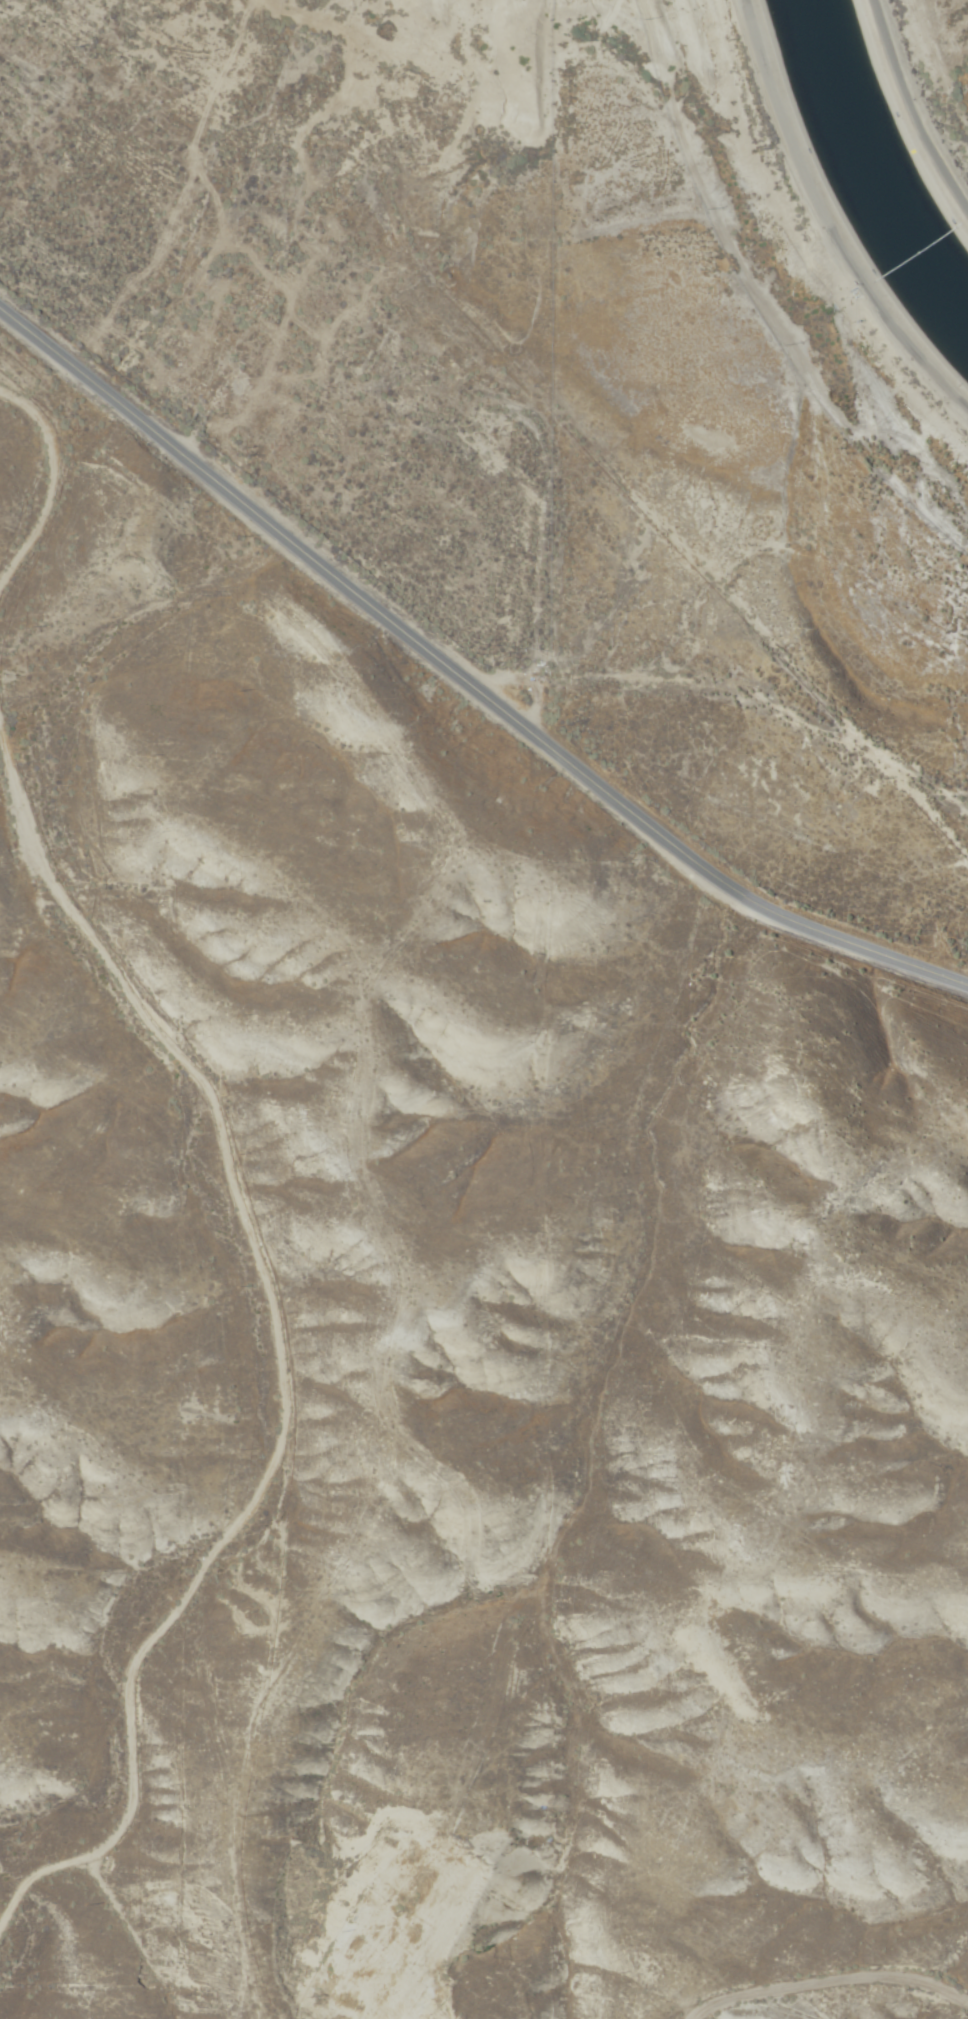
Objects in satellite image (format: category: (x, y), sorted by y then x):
road: (914, 103)
road: (824, 219)
road: (464, 677)
road: (762, 706)

